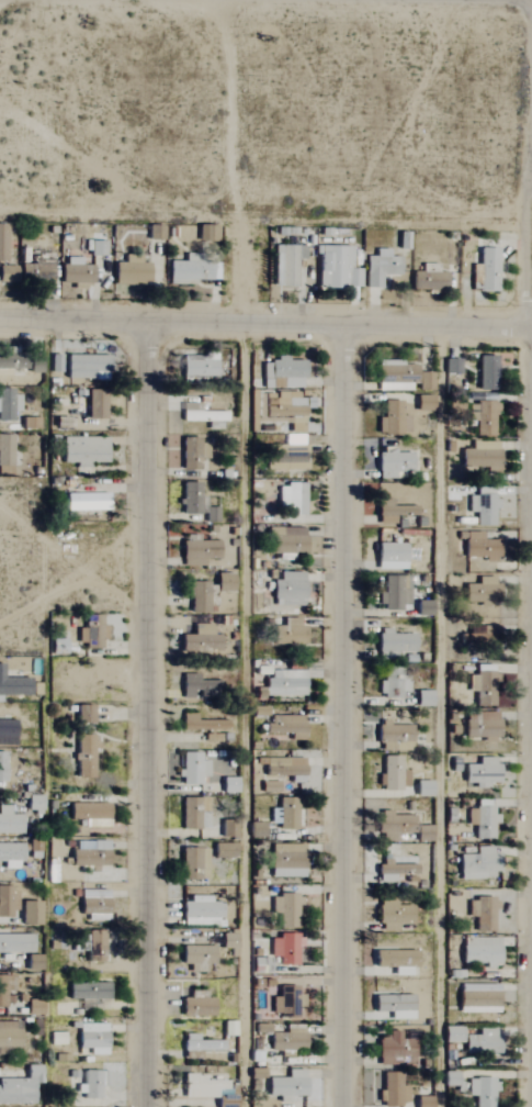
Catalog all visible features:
building: (2, 243)
building: (95, 247)
building: (285, 264)
building: (336, 267)
building: (380, 267)
building: (129, 270)
building: (190, 270)
building: (484, 270)
building: (75, 271)
building: (7, 273)
building: (36, 276)
building: (427, 280)
road: (265, 321)
building: (16, 361)
building: (84, 367)
building: (387, 370)
building: (283, 372)
building: (485, 372)
building: (423, 381)
building: (94, 403)
building: (422, 403)
building: (8, 405)
building: (284, 407)
building: (482, 417)
building: (392, 420)
building: (83, 450)
building: (191, 452)
building: (4, 454)
building: (480, 456)
building: (286, 457)
building: (390, 462)
building: (386, 492)
building: (189, 499)
building: (291, 500)
building: (84, 502)
building: (484, 510)
building: (390, 512)
building: (479, 547)
building: (197, 551)
building: (389, 556)
building: (223, 582)
building: (287, 591)
building: (479, 591)
building: (394, 592)
building: (197, 597)
building: (89, 631)
building: (287, 633)
building: (478, 636)
building: (199, 640)
building: (393, 641)
building: (284, 682)
building: (13, 686)
building: (197, 686)
building: (395, 687)
building: (484, 689)
road: (151, 713)
building: (82, 714)
road: (343, 715)
road: (438, 715)
building: (200, 724)
building: (479, 725)
building: (286, 726)
building: (7, 733)
building: (395, 736)
building: (83, 757)
building: (2, 767)
building: (283, 768)
building: (191, 769)
building: (480, 772)
building: (393, 774)
building: (228, 785)
building: (422, 787)
building: (33, 804)
building: (191, 812)
building: (90, 814)
building: (285, 814)
building: (9, 821)
building: (482, 821)
building: (392, 826)
building: (228, 830)
building: (223, 850)
building: (89, 853)
building: (10, 856)
building: (285, 861)
building: (478, 864)
building: (393, 872)
building: (7, 902)
building: (93, 905)
building: (285, 910)
building: (199, 912)
building: (29, 914)
building: (480, 914)
building: (392, 915)
building: (15, 943)
building: (91, 946)
building: (284, 949)
building: (478, 950)
building: (196, 954)
building: (394, 961)
building: (1, 986)
building: (88, 992)
building: (477, 998)
building: (285, 1002)
building: (195, 1006)
building: (393, 1007)
building: (9, 1035)
building: (452, 1035)
building: (92, 1038)
building: (287, 1039)
building: (480, 1042)
building: (199, 1043)
building: (394, 1050)
building: (450, 1078)
building: (91, 1083)
building: (200, 1086)
building: (286, 1086)
building: (20, 1087)
building: (393, 1091)
building: (482, 1092)
building: (422, 1102)

